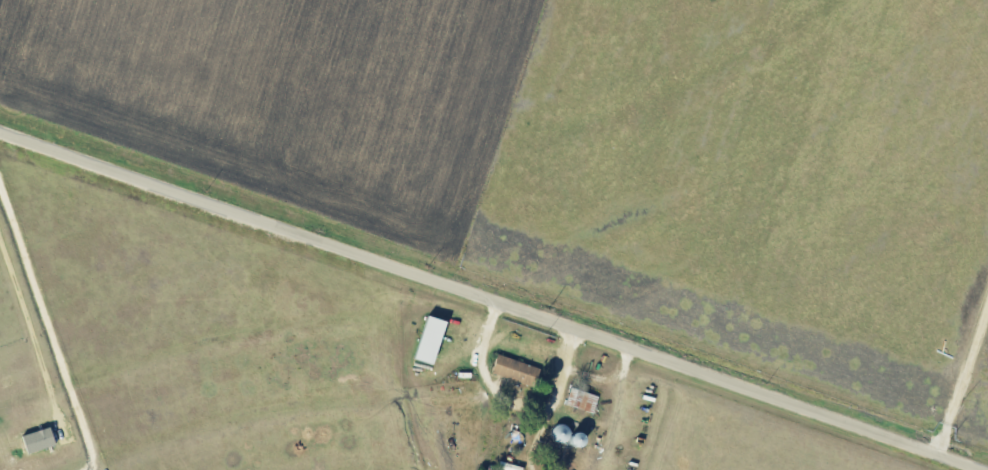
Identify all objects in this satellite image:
road: (493, 299)
road: (32, 335)
building: (433, 340)
building: (516, 370)
road: (967, 389)
building: (40, 440)

